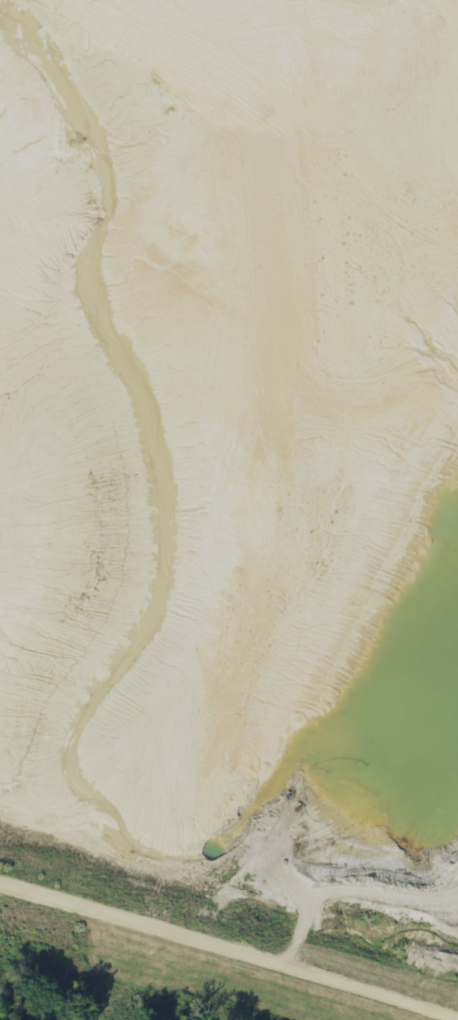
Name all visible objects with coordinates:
quarry: (235, 456)

